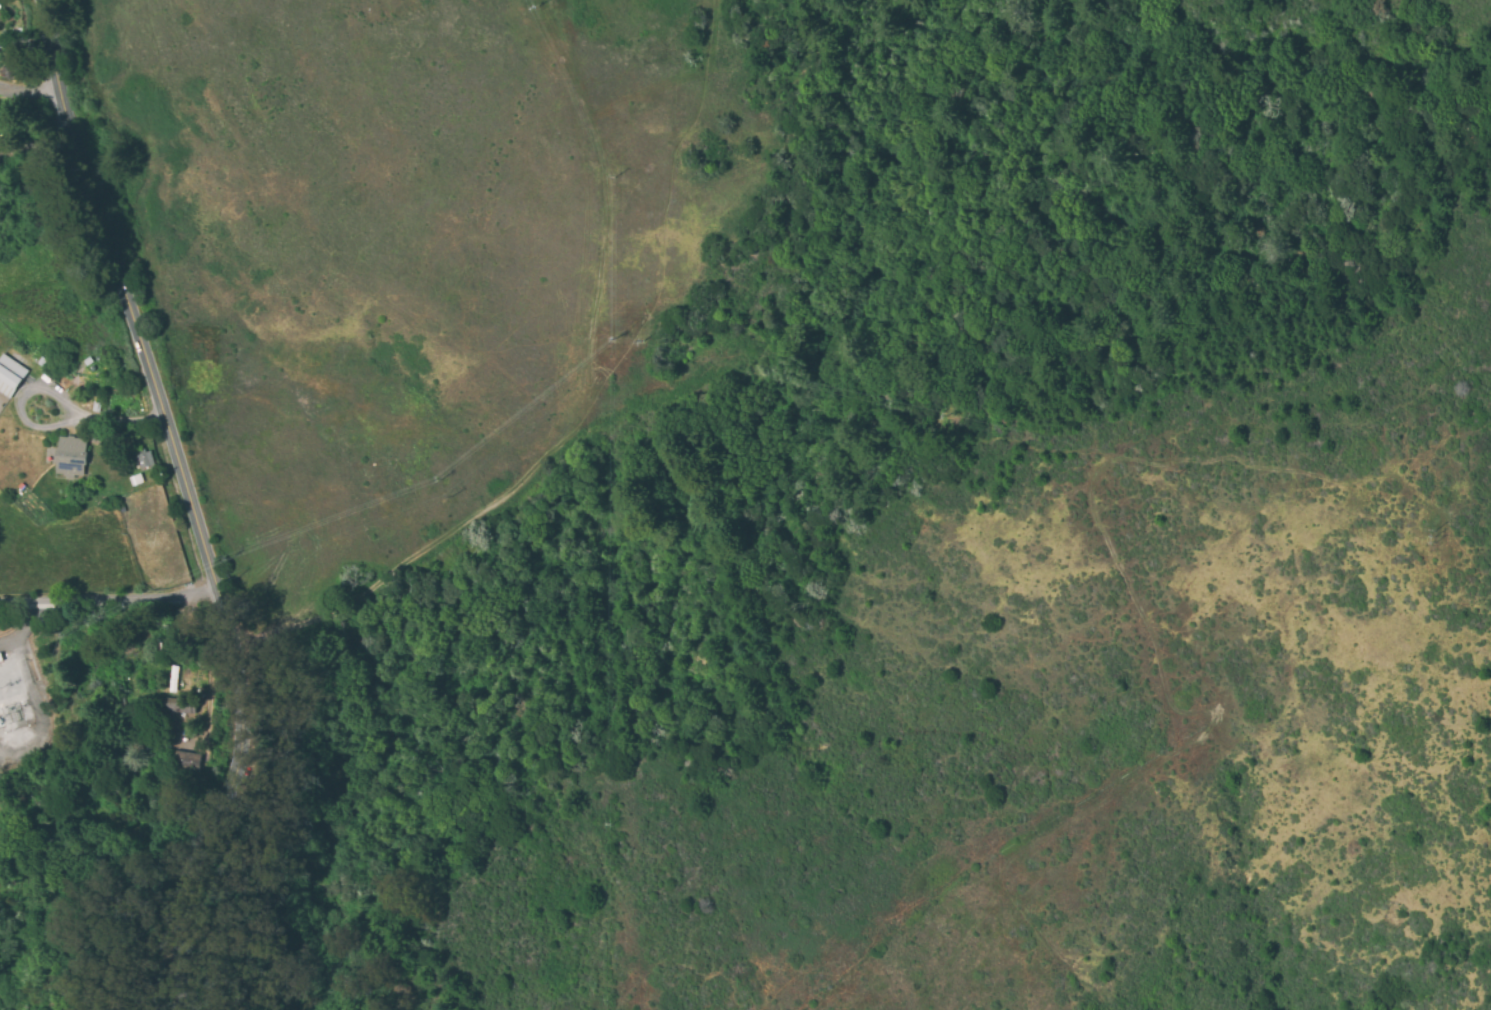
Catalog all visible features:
building: (10, 376)
building: (70, 457)
building: (145, 460)
road: (184, 504)
road: (105, 602)
power substation: (22, 703)

